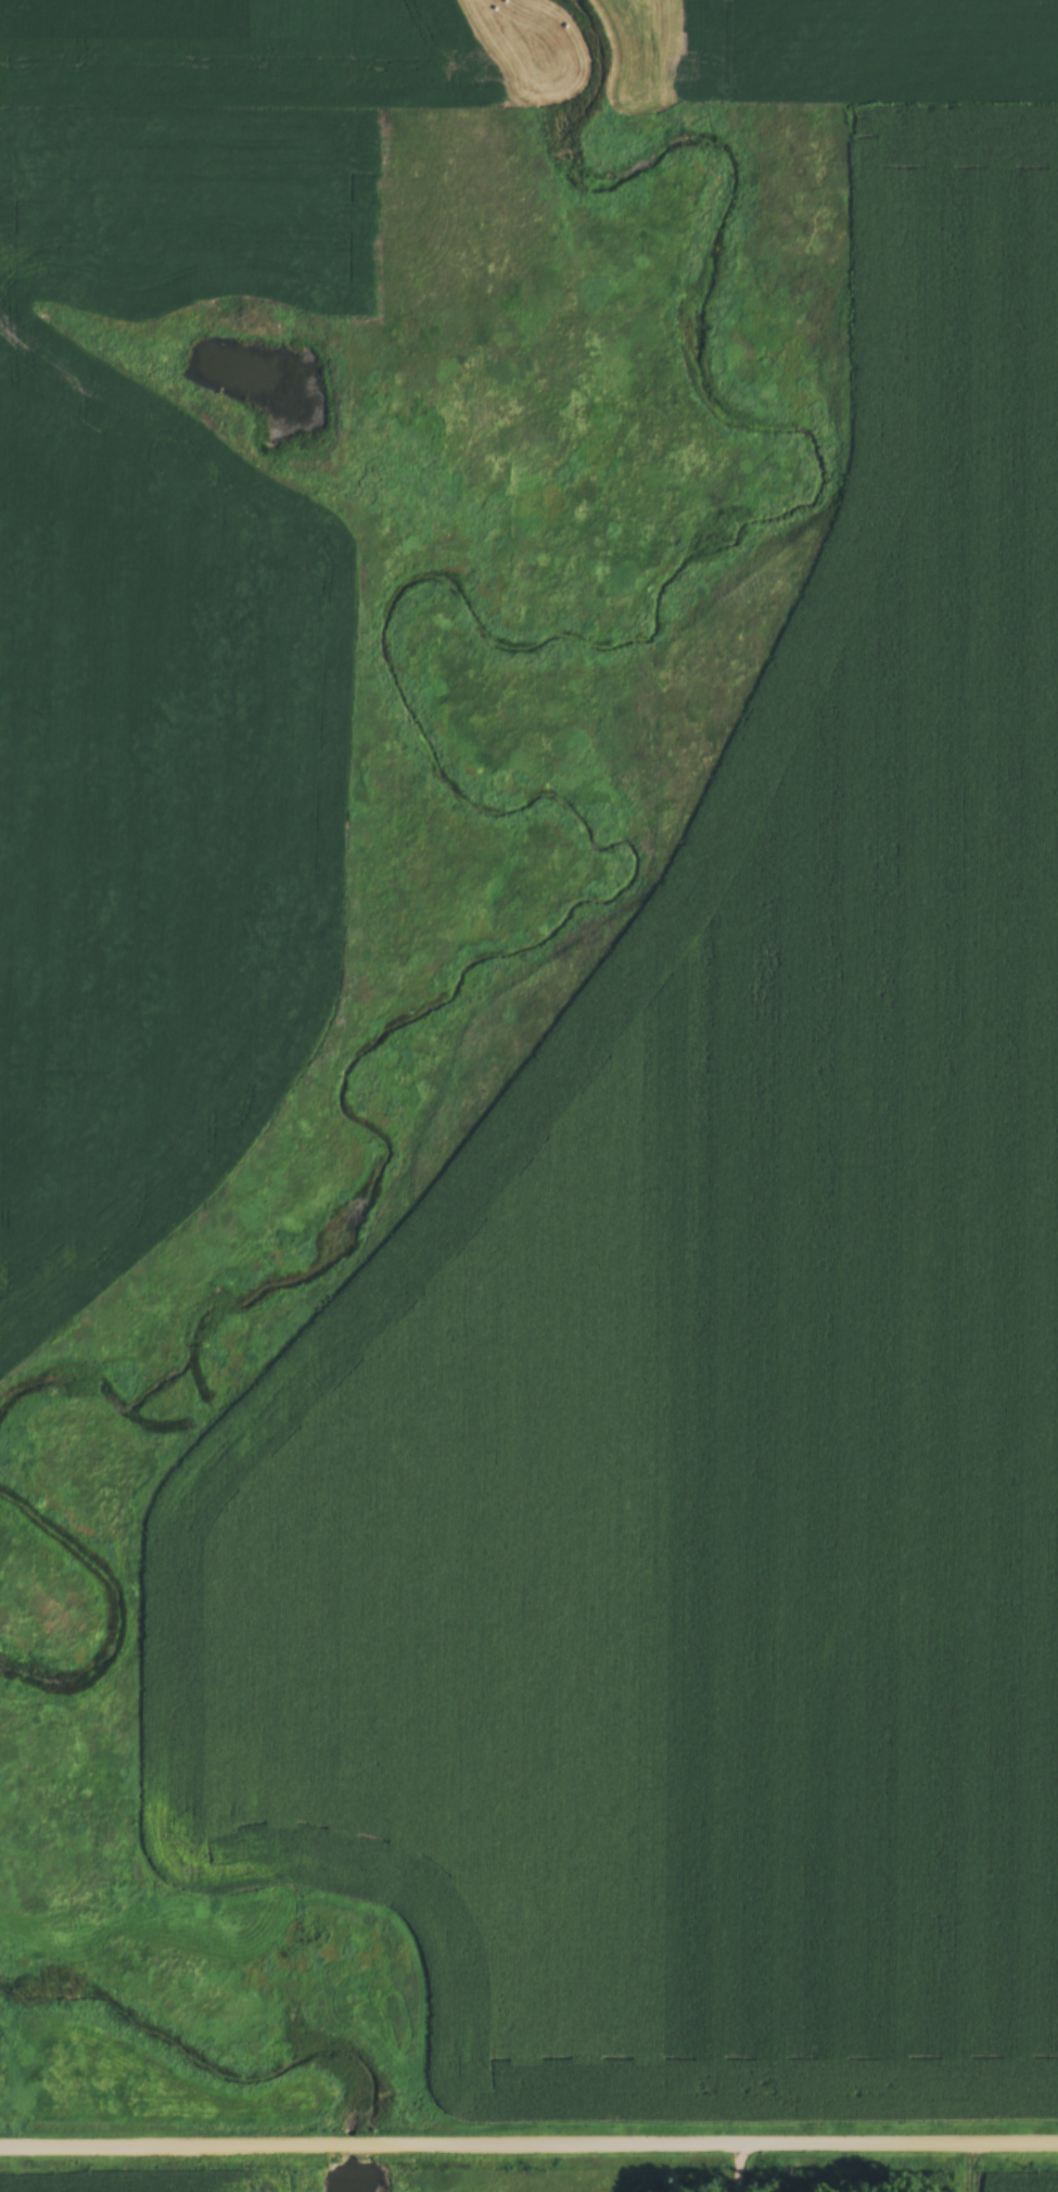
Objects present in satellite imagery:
road: (528, 2137)
road: (736, 2163)
crop: (1017, 2181)

